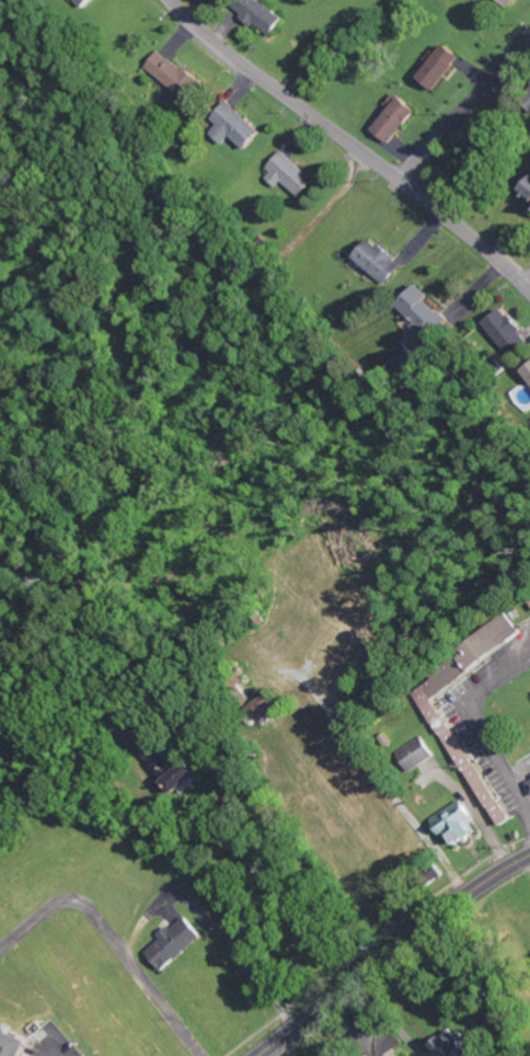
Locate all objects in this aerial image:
building: (87, 2)
building: (515, 2)
building: (263, 13)
building: (442, 66)
building: (176, 73)
building: (528, 100)
road: (462, 106)
building: (396, 117)
building: (237, 126)
road: (353, 145)
building: (296, 174)
building: (528, 190)
building: (380, 260)
road: (526, 280)
building: (420, 308)
building: (508, 332)
building: (404, 356)
building: (528, 371)
building: (417, 753)
building: (169, 764)
building: (529, 780)
building: (459, 822)
building: (176, 943)
road: (395, 957)
building: (458, 1047)
building: (15, 1055)

